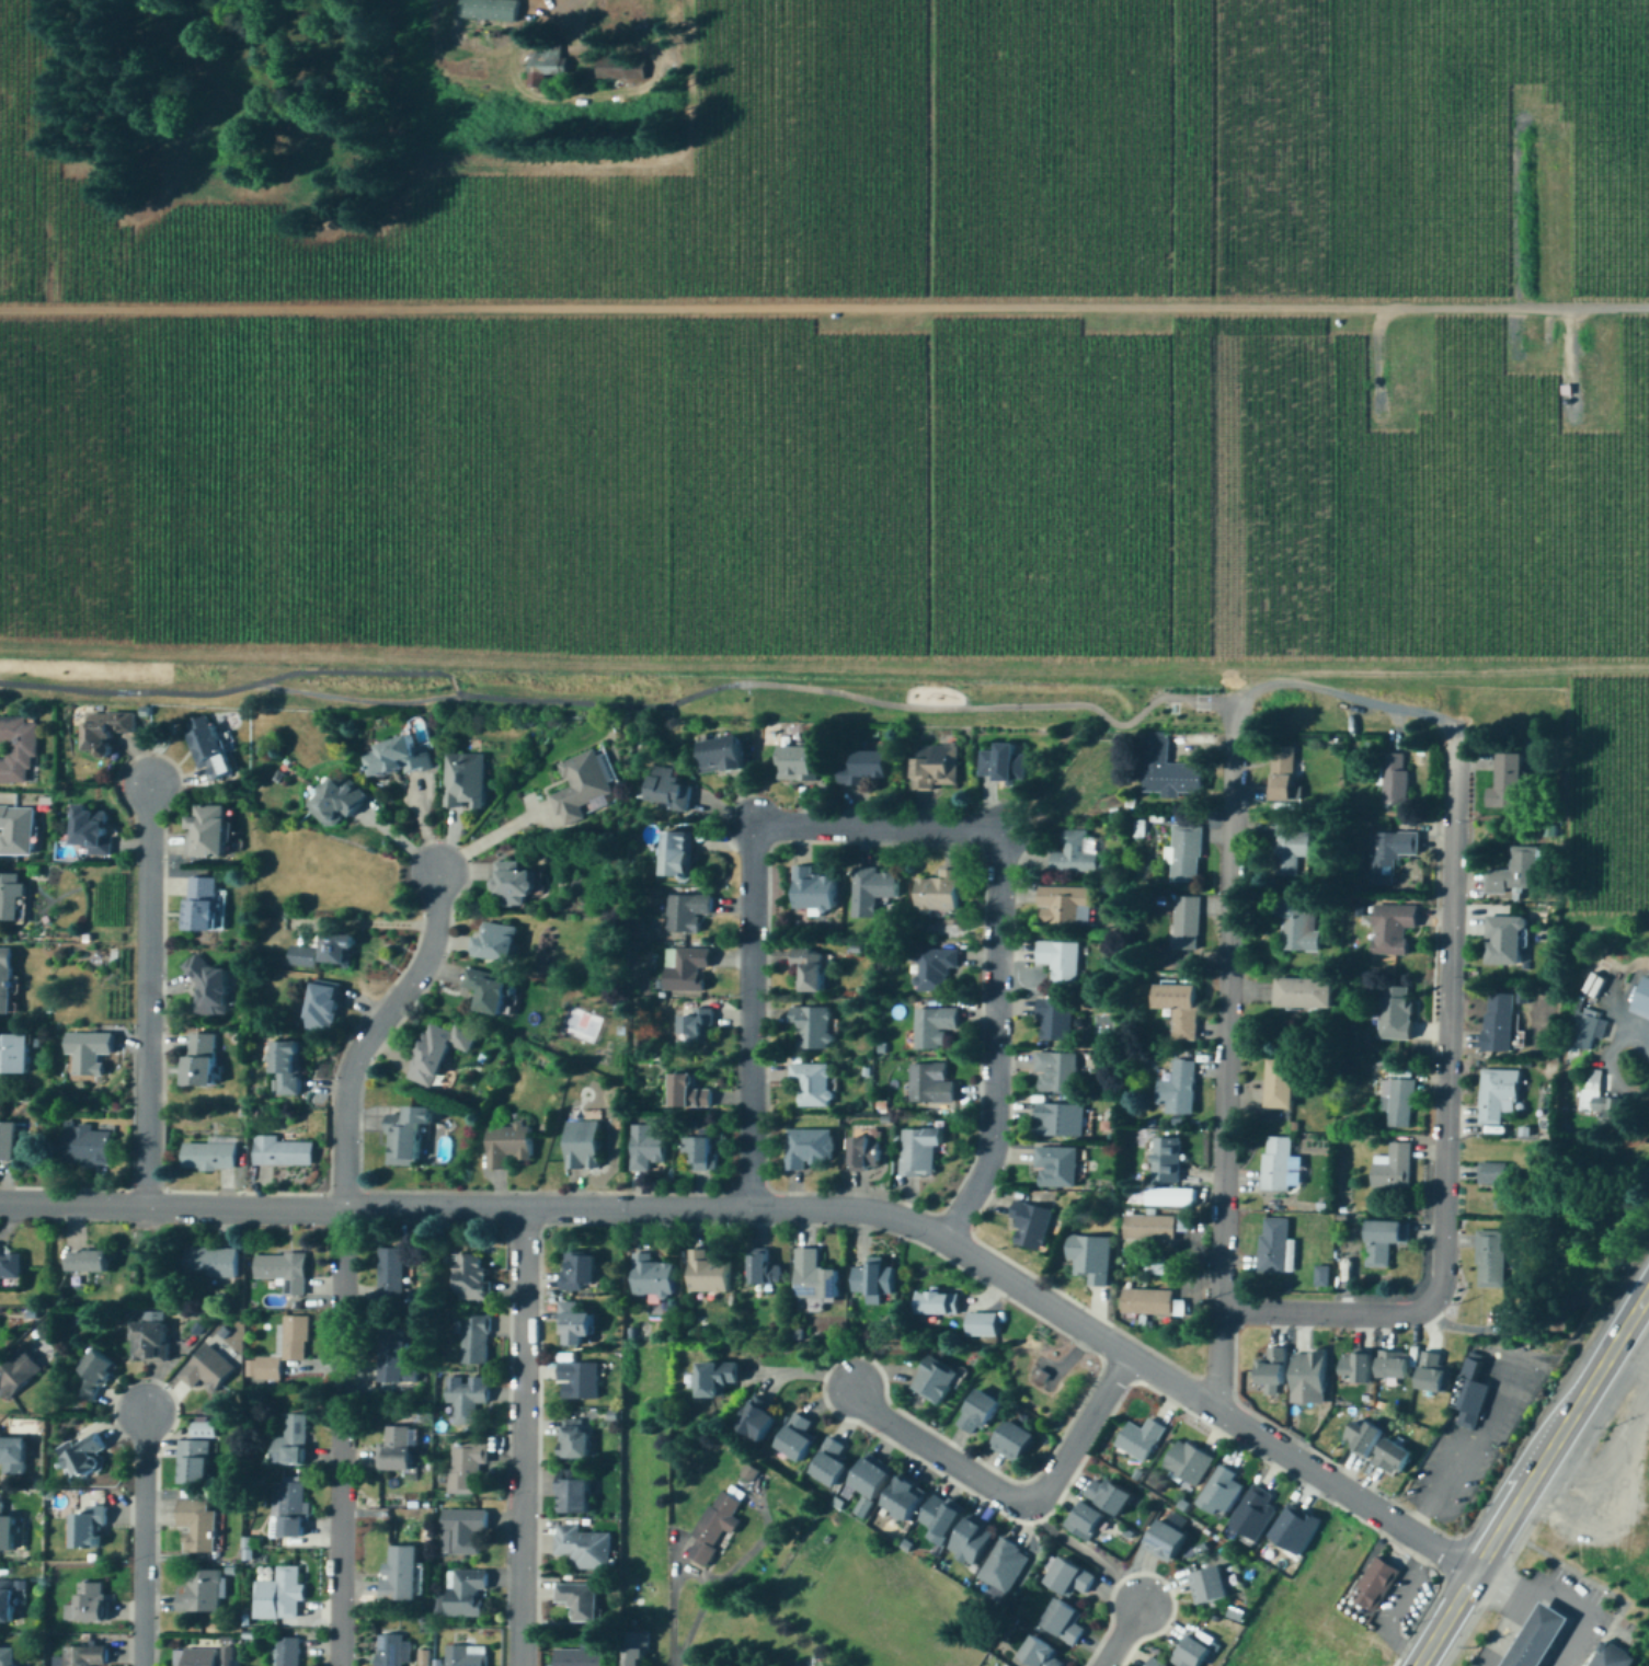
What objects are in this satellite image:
building: (491, 8)
road: (617, 51)
building: (547, 64)
building: (622, 66)
road: (824, 305)
road: (1338, 693)
building: (104, 729)
building: (208, 746)
building: (19, 749)
building: (721, 755)
building: (394, 757)
building: (799, 762)
building: (1001, 763)
building: (936, 766)
building: (864, 767)
building: (1168, 769)
building: (1282, 772)
building: (1394, 779)
building: (465, 780)
building: (1507, 782)
building: (583, 786)
building: (668, 791)
building: (337, 802)
building: (91, 829)
building: (16, 830)
building: (209, 831)
road: (877, 831)
road: (484, 837)
building: (1287, 849)
building: (1076, 853)
building: (1184, 853)
building: (1387, 854)
building: (677, 855)
building: (1515, 873)
building: (514, 884)
building: (812, 891)
building: (870, 891)
building: (938, 894)
building: (12, 898)
building: (202, 904)
building: (1064, 905)
building: (686, 912)
building: (1186, 924)
building: (1295, 924)
building: (1390, 929)
building: (496, 942)
building: (1505, 942)
building: (324, 953)
building: (1060, 961)
building: (686, 972)
building: (809, 972)
building: (935, 972)
building: (7, 981)
building: (1594, 981)
building: (210, 990)
building: (488, 991)
building: (1303, 995)
road: (147, 998)
building: (1642, 1001)
building: (322, 1007)
building: (1179, 1010)
building: (1395, 1013)
road: (752, 1016)
building: (1054, 1020)
building: (1498, 1023)
building: (812, 1027)
building: (934, 1027)
building: (694, 1029)
building: (1582, 1031)
road: (369, 1034)
road: (1644, 1039)
road: (995, 1043)
building: (437, 1052)
building: (87, 1054)
building: (12, 1056)
building: (201, 1060)
road: (1226, 1061)
building: (286, 1069)
building: (1055, 1073)
building: (930, 1083)
building: (811, 1084)
building: (1279, 1085)
building: (1178, 1089)
building: (1590, 1090)
building: (686, 1092)
building: (1496, 1093)
building: (1400, 1104)
building: (1057, 1121)
road: (1444, 1121)
building: (404, 1135)
building: (8, 1141)
building: (85, 1144)
building: (582, 1145)
building: (507, 1146)
building: (646, 1146)
building: (805, 1148)
building: (918, 1151)
building: (279, 1152)
building: (700, 1152)
building: (208, 1154)
building: (863, 1154)
building: (1166, 1161)
building: (1275, 1164)
building: (1055, 1167)
building: (1393, 1167)
building: (1496, 1184)
building: (1176, 1194)
road: (170, 1207)
building: (1031, 1226)
building: (1155, 1228)
building: (1383, 1241)
road: (950, 1244)
building: (1273, 1246)
building: (1088, 1259)
building: (88, 1262)
building: (209, 1263)
building: (1489, 1264)
building: (10, 1267)
building: (282, 1271)
building: (763, 1271)
building: (579, 1272)
building: (708, 1273)
building: (1324, 1273)
building: (390, 1276)
building: (468, 1277)
building: (651, 1277)
building: (813, 1277)
building: (873, 1280)
building: (1146, 1302)
building: (937, 1305)
building: (576, 1324)
road: (1639, 1324)
building: (982, 1325)
building: (471, 1341)
building: (148, 1343)
building: (284, 1348)
building: (392, 1358)
building: (1394, 1365)
building: (1356, 1368)
building: (1272, 1369)
building: (206, 1370)
building: (16, 1374)
building: (1433, 1375)
building: (92, 1378)
building: (714, 1379)
building: (1308, 1380)
building: (579, 1381)
building: (935, 1381)
building: (1470, 1395)
building: (465, 1399)
building: (978, 1414)
building: (756, 1420)
road: (523, 1424)
building: (203, 1431)
road: (1561, 1434)
road: (341, 1437)
building: (1362, 1438)
building: (795, 1439)
building: (1140, 1439)
building: (574, 1440)
building: (286, 1443)
building: (1012, 1443)
building: (397, 1450)
building: (12, 1456)
road: (1467, 1457)
building: (1394, 1458)
building: (83, 1460)
building: (193, 1463)
building: (1188, 1463)
building: (828, 1464)
building: (467, 1470)
building: (870, 1484)
building: (573, 1492)
building: (1222, 1493)
building: (1109, 1495)
building: (905, 1498)
road: (1010, 1501)
building: (286, 1512)
building: (1255, 1514)
building: (940, 1517)
building: (1086, 1521)
building: (1299, 1526)
building: (197, 1527)
building: (713, 1528)
building: (83, 1530)
building: (461, 1531)
building: (7, 1532)
road: (141, 1540)
building: (972, 1541)
building: (1165, 1542)
building: (583, 1548)
road: (689, 1566)
building: (1003, 1566)
building: (399, 1575)
building: (1068, 1578)
building: (1210, 1586)
building: (1376, 1586)
building: (198, 1592)
building: (279, 1593)
building: (466, 1594)
building: (579, 1601)
building: (5, 1602)
road: (1532, 1602)
building: (87, 1604)
road: (1396, 1608)
road: (1576, 1609)
road: (1514, 1610)
road: (1526, 1612)
road: (1556, 1618)
road: (1445, 1620)
building: (1063, 1621)
road: (1519, 1625)
road: (1550, 1628)
road: (1576, 1630)
road: (1121, 1636)
road: (1512, 1636)
building: (1542, 1639)
gas station: (1542, 1639)
road: (1570, 1640)
road: (1542, 1641)
road: (1505, 1647)
building: (634, 1650)
building: (388, 1651)
building: (285, 1652)
road: (519, 1652)
building: (1038, 1652)
building: (1191, 1652)
road: (1536, 1652)
road: (1561, 1653)
building: (468, 1654)
building: (82, 1656)
road: (1500, 1656)
building: (8, 1657)
building: (201, 1657)
building: (579, 1657)
building: (1613, 1657)
road: (1524, 1659)
building: (1155, 1663)
road: (1490, 1663)
road: (1555, 1663)
road: (1512, 1664)

